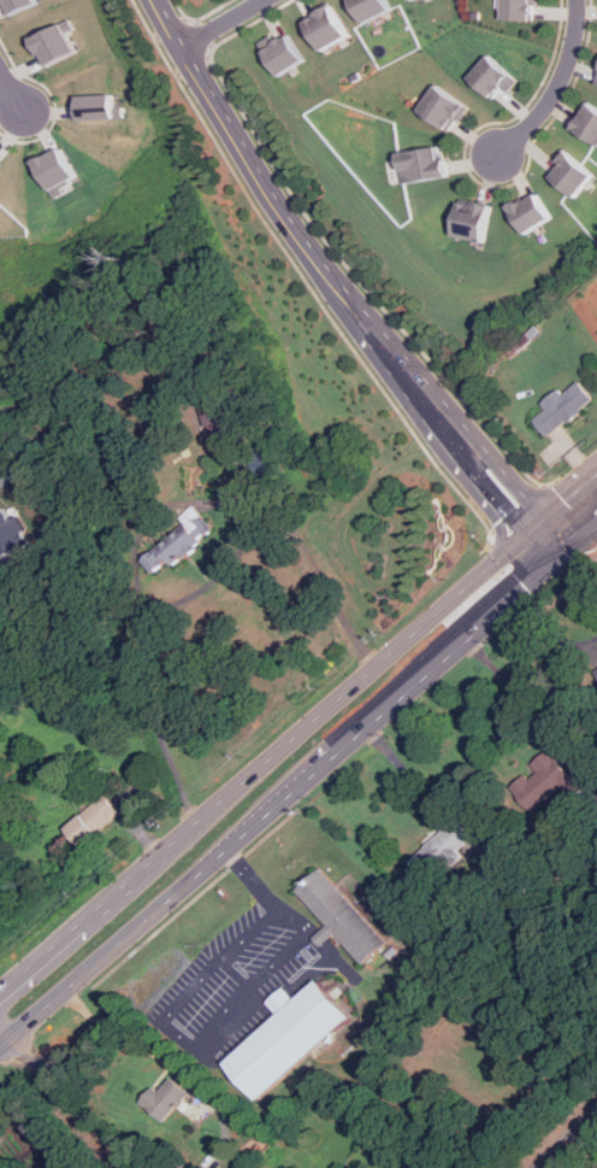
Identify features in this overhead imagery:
building: (17, 5)
building: (370, 8)
building: (516, 8)
road: (223, 24)
building: (325, 25)
building: (51, 43)
building: (279, 53)
building: (492, 77)
building: (596, 80)
road: (8, 87)
road: (557, 87)
building: (89, 106)
building: (443, 107)
building: (587, 123)
building: (422, 164)
building: (47, 170)
road: (254, 174)
building: (569, 175)
building: (530, 212)
building: (471, 221)
building: (211, 406)
building: (561, 406)
road: (463, 450)
traffic signals: (533, 529)
building: (10, 532)
road: (593, 536)
building: (178, 541)
road: (579, 542)
traffic signals: (562, 558)
road: (193, 593)
road: (550, 632)
road: (443, 661)
building: (596, 665)
building: (596, 669)
road: (532, 695)
road: (155, 721)
road: (298, 733)
road: (407, 770)
building: (545, 781)
building: (90, 821)
building: (441, 850)
road: (250, 876)
road: (164, 903)
road: (279, 904)
building: (339, 916)
road: (319, 938)
road: (318, 967)
road: (241, 974)
road: (282, 997)
road: (171, 1025)
building: (285, 1037)
road: (1, 1038)
road: (1, 1041)
building: (164, 1098)
road: (72, 1104)
railway: (567, 1138)
road: (572, 1161)

